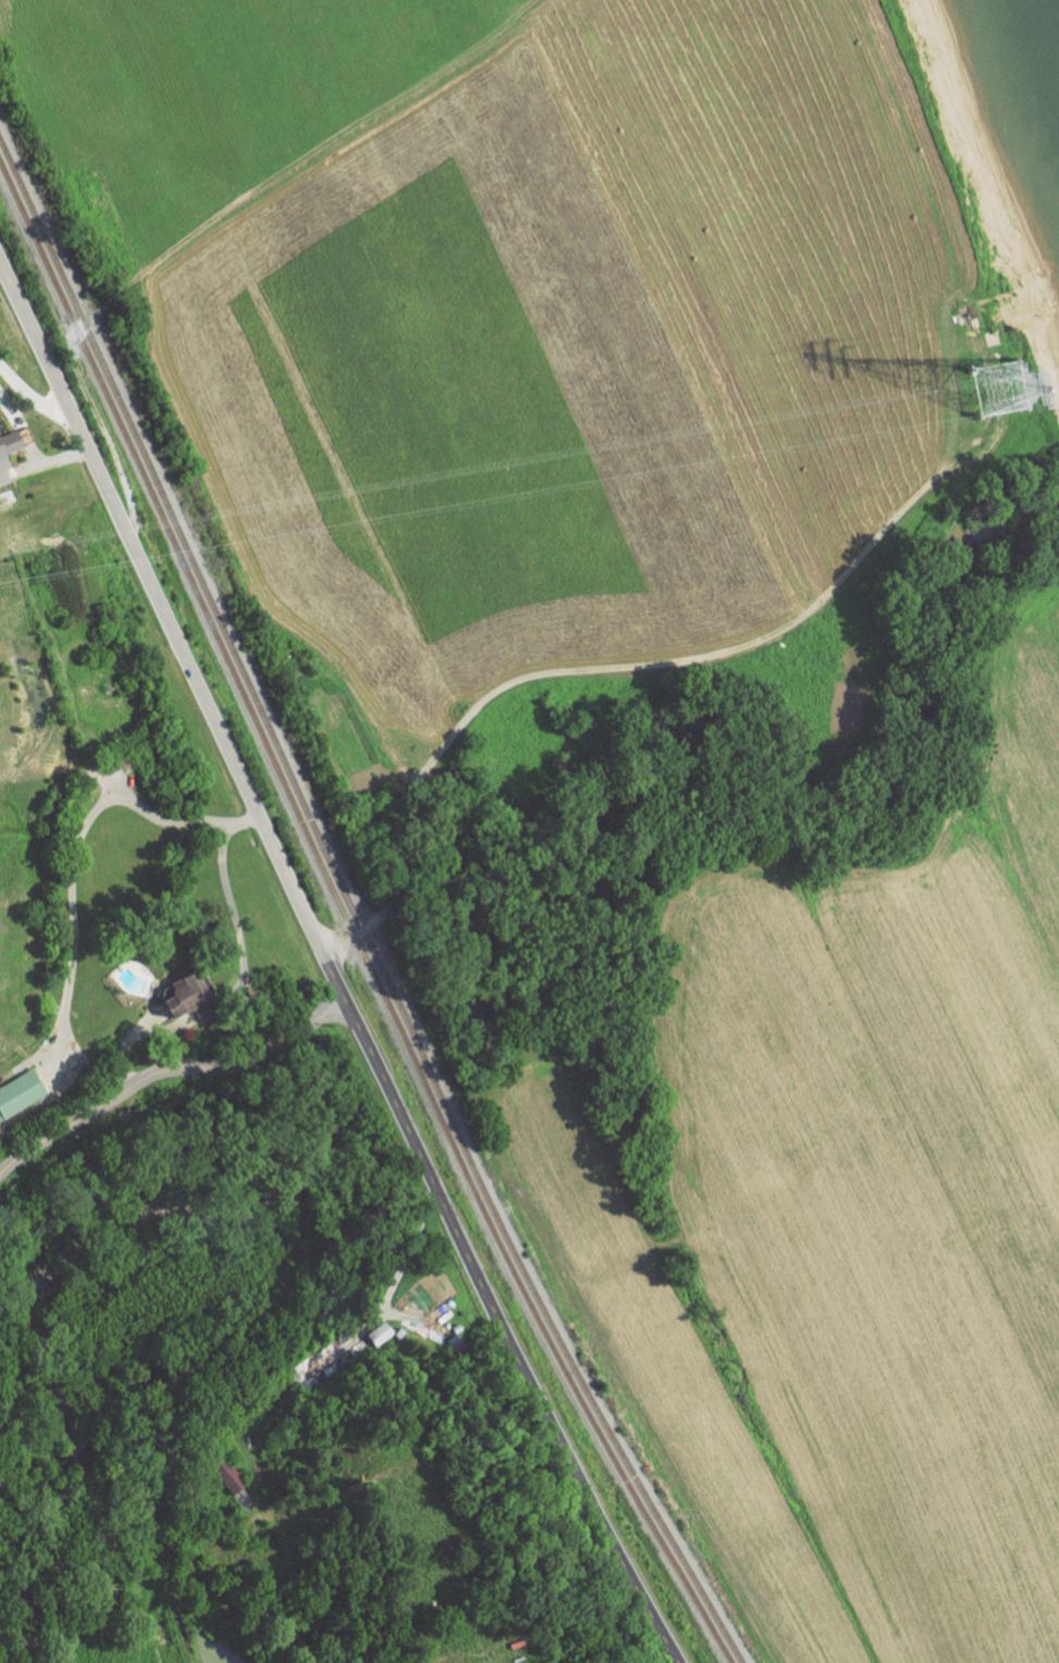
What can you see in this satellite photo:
road: (322, 148)
crop: (528, 316)
road: (78, 329)
power tower: (995, 382)
road: (29, 395)
road: (539, 675)
road: (74, 847)
road: (233, 902)
railway: (352, 913)
railway: (347, 925)
road: (329, 971)
road: (165, 1070)
crop: (837, 1213)

